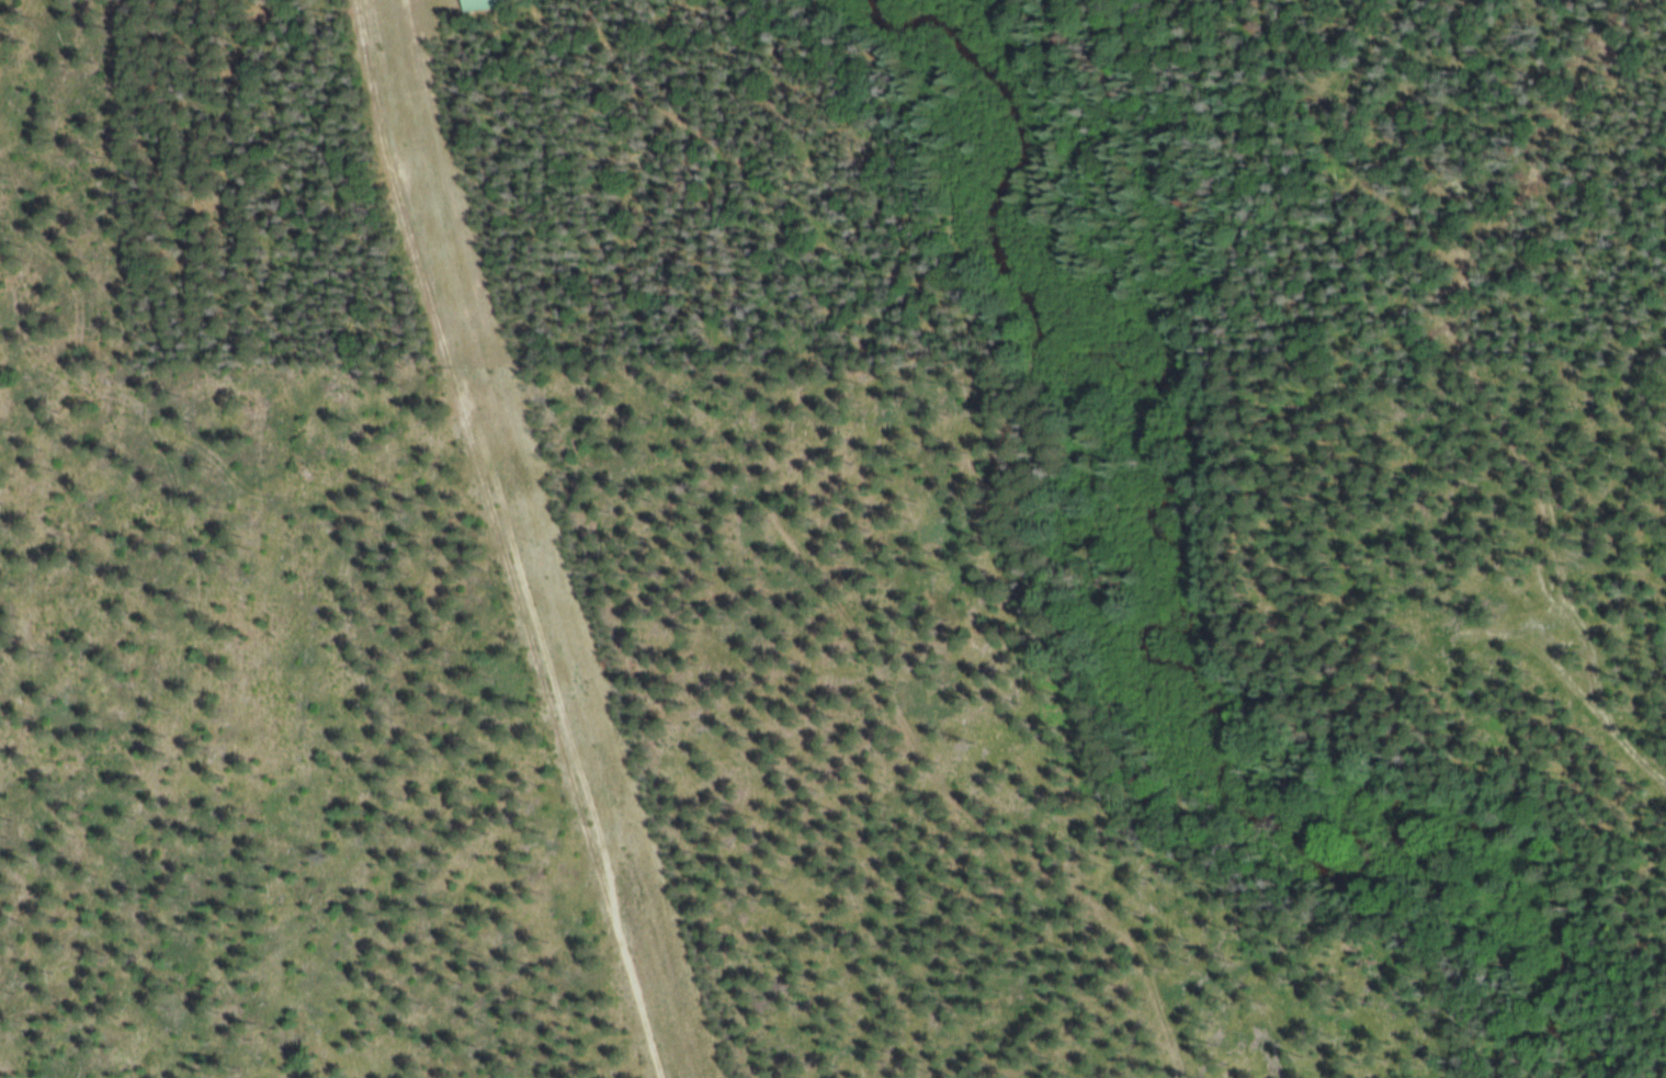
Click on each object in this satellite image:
building: (480, 4)
road: (1511, 325)
road: (800, 556)

